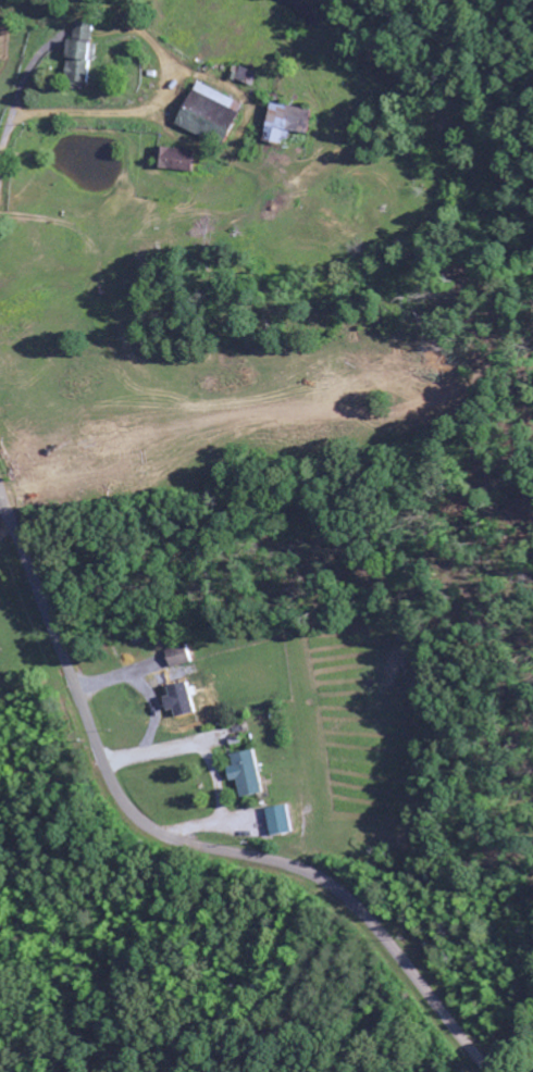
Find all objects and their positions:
building: (76, 57)
building: (238, 76)
building: (202, 114)
building: (281, 124)
building: (168, 160)
building: (176, 657)
building: (176, 699)
building: (243, 773)
building: (275, 821)
road: (179, 838)

